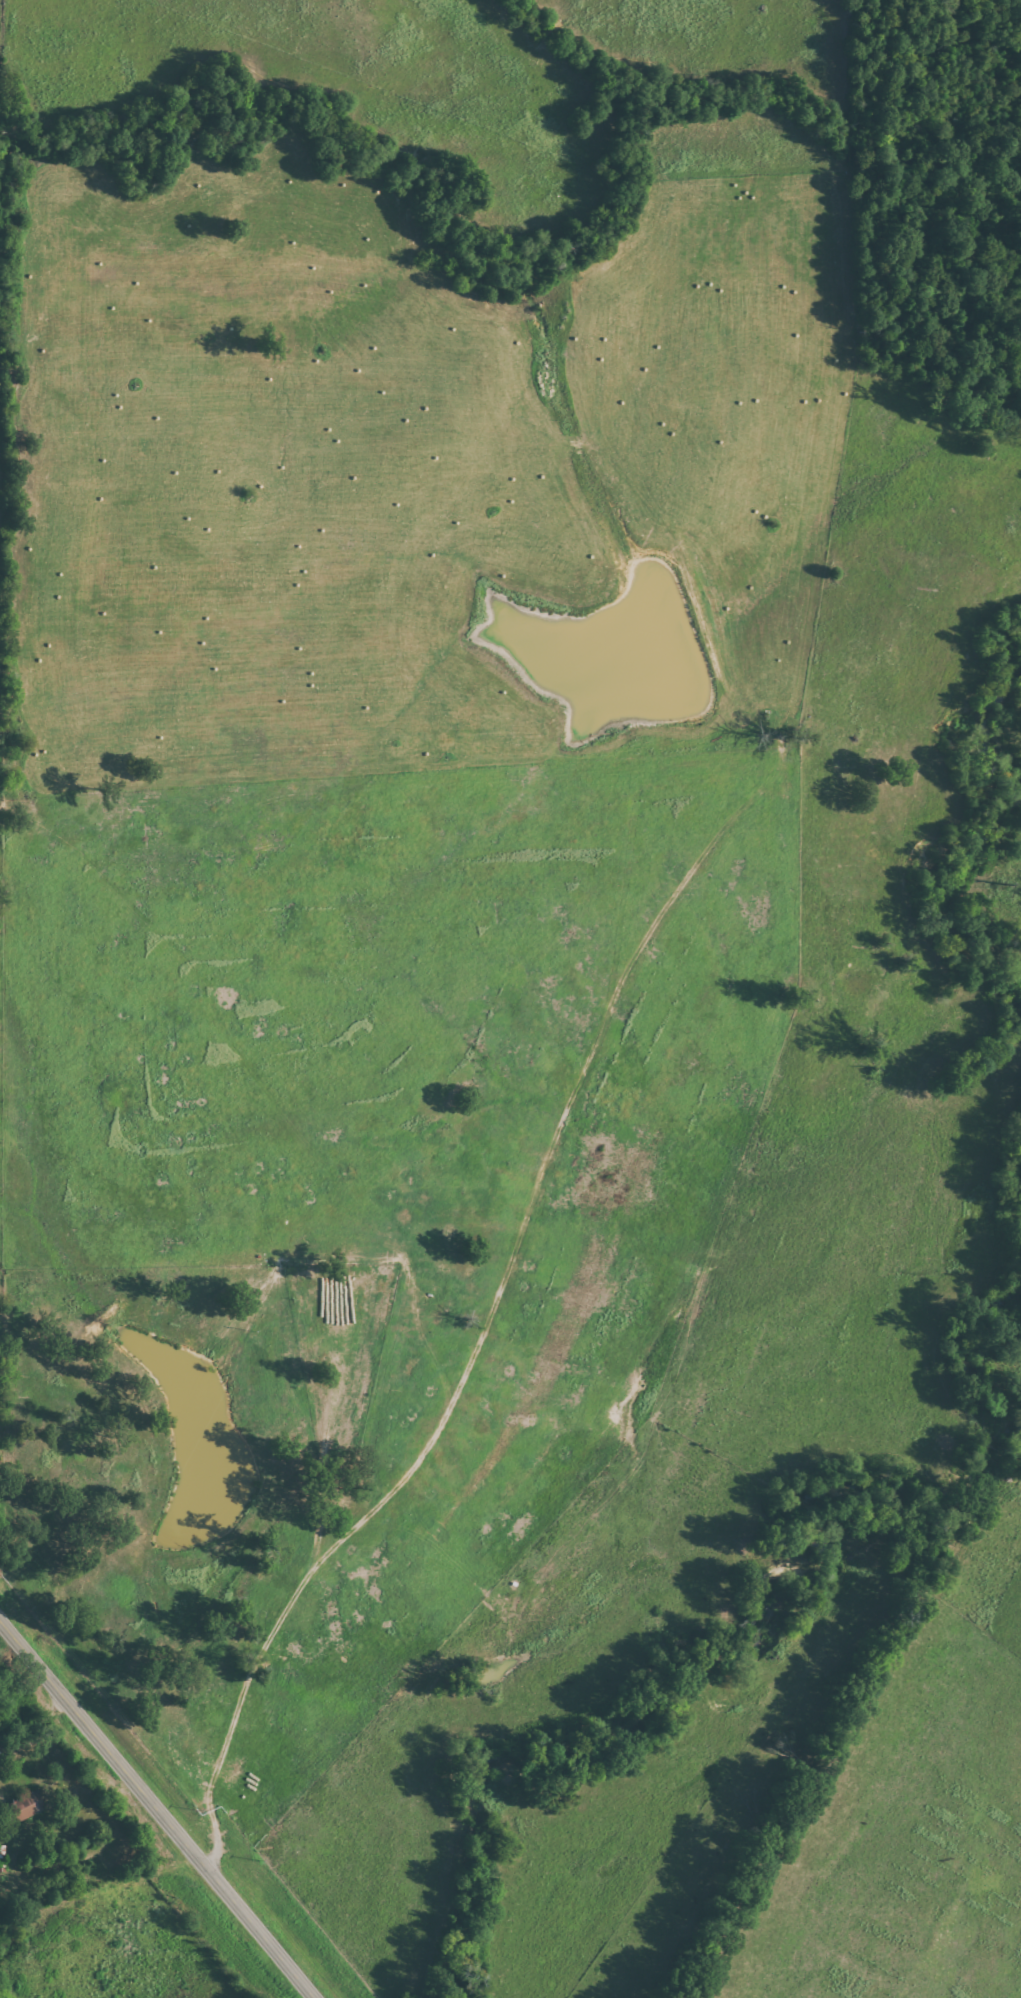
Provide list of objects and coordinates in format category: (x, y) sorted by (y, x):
building: (24, 1807)
road: (155, 1809)

